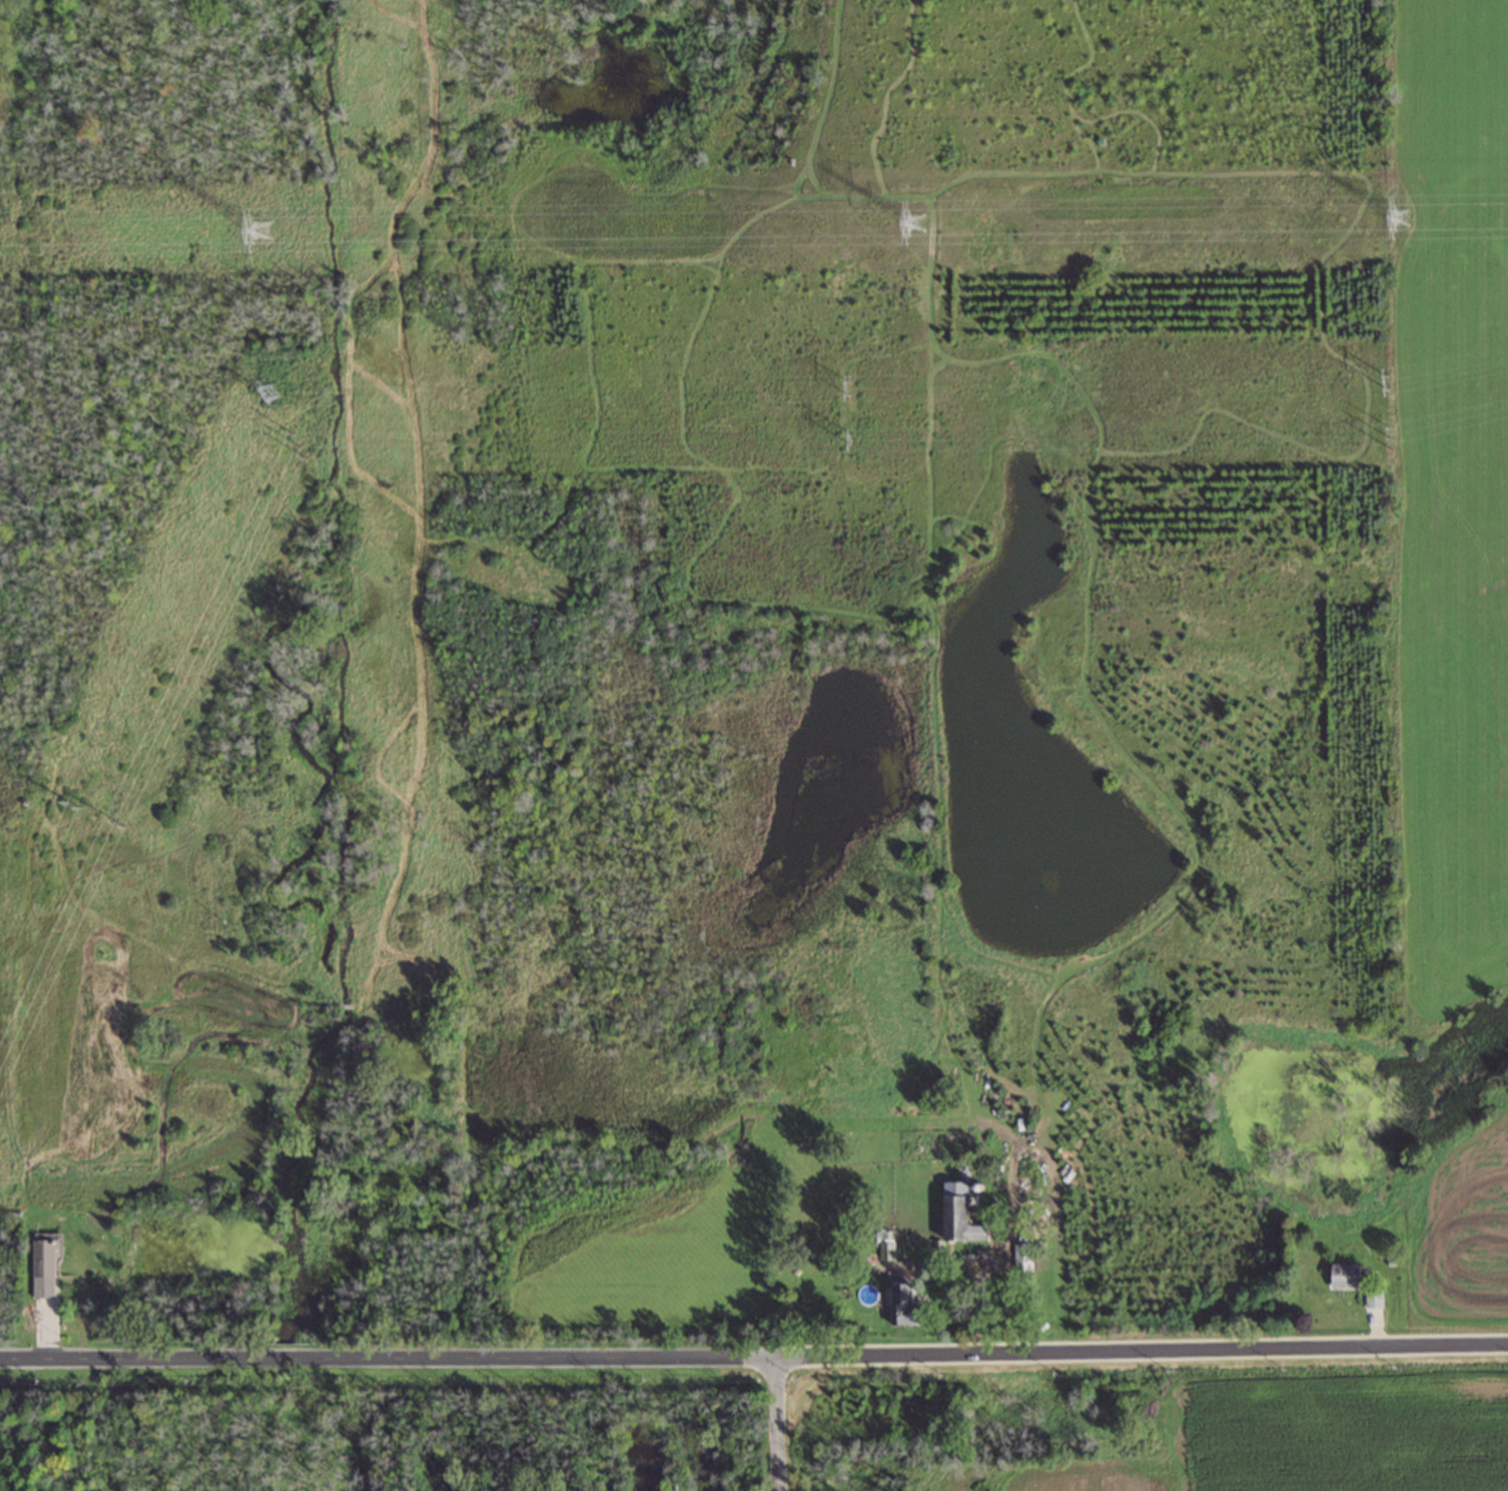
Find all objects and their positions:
power tower: (1392, 220)
power tower: (908, 225)
power tower: (263, 239)
power tower: (1383, 383)
power tower: (845, 389)
power tower: (273, 395)
power tower: (1390, 438)
power tower: (849, 440)
power tower: (300, 447)
crop: (1451, 511)
power tower: (65, 803)
power tower: (113, 823)
building: (957, 1217)
crop: (1461, 1238)
building: (887, 1252)
building: (1023, 1260)
building: (48, 1269)
road: (978, 1274)
building: (1344, 1278)
building: (1373, 1301)
building: (901, 1305)
road: (1141, 1349)
road: (387, 1358)
road: (776, 1423)

